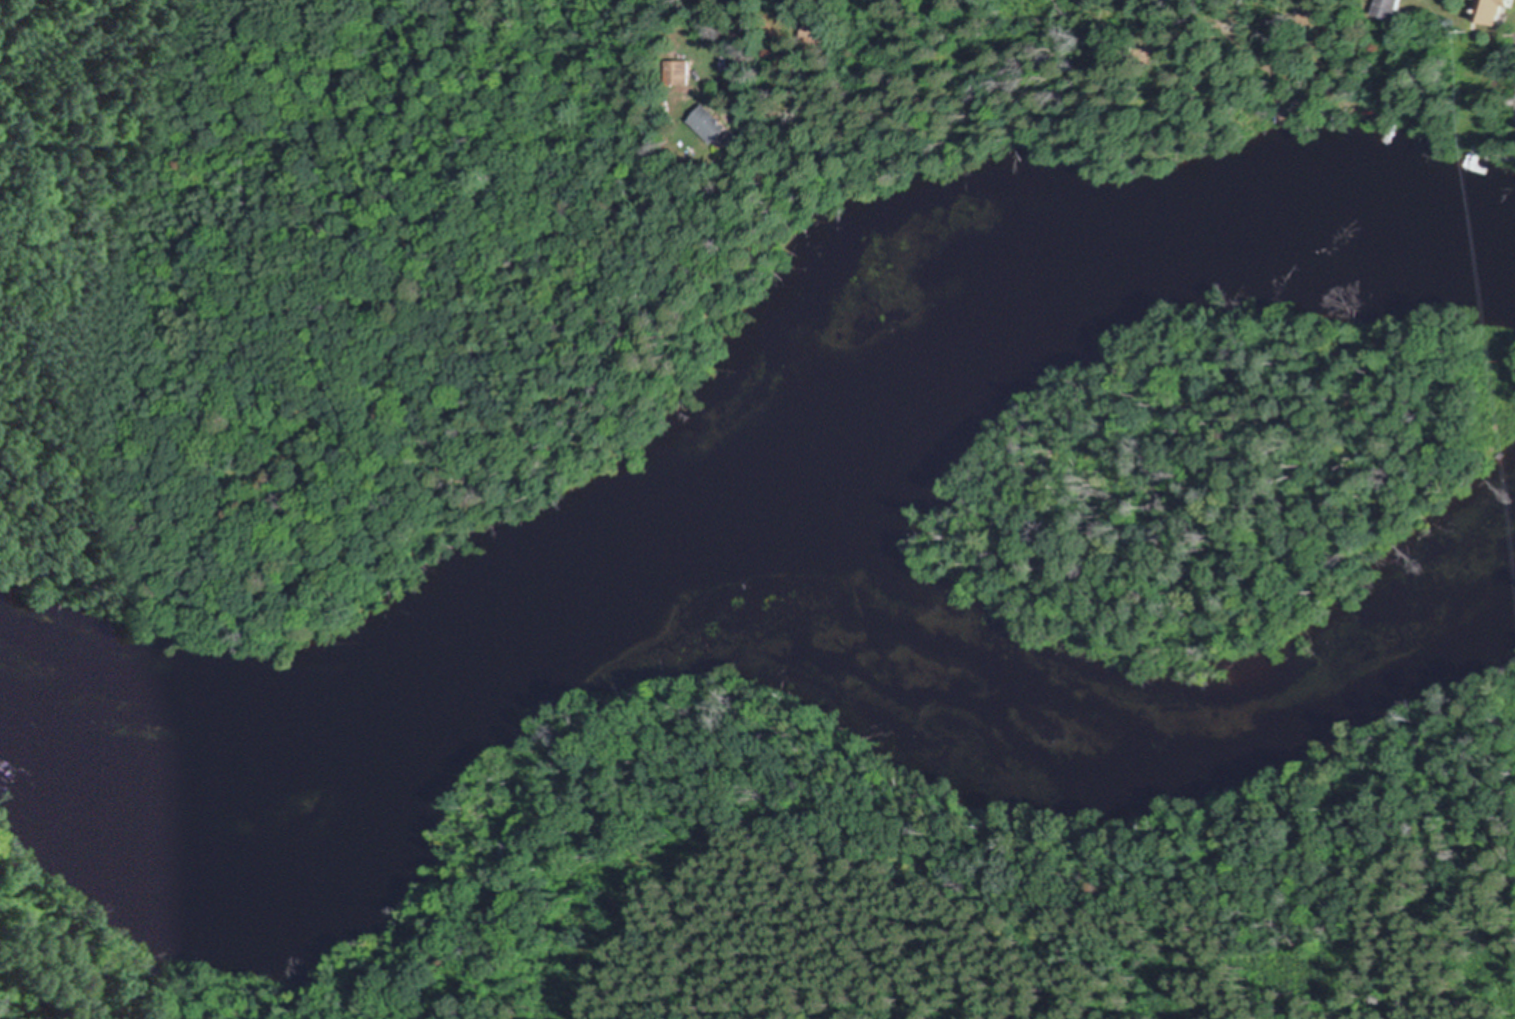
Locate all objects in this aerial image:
building: (1397, 7)
building: (1497, 10)
road: (708, 20)
building: (817, 31)
building: (676, 71)
building: (712, 123)
river: (728, 475)

